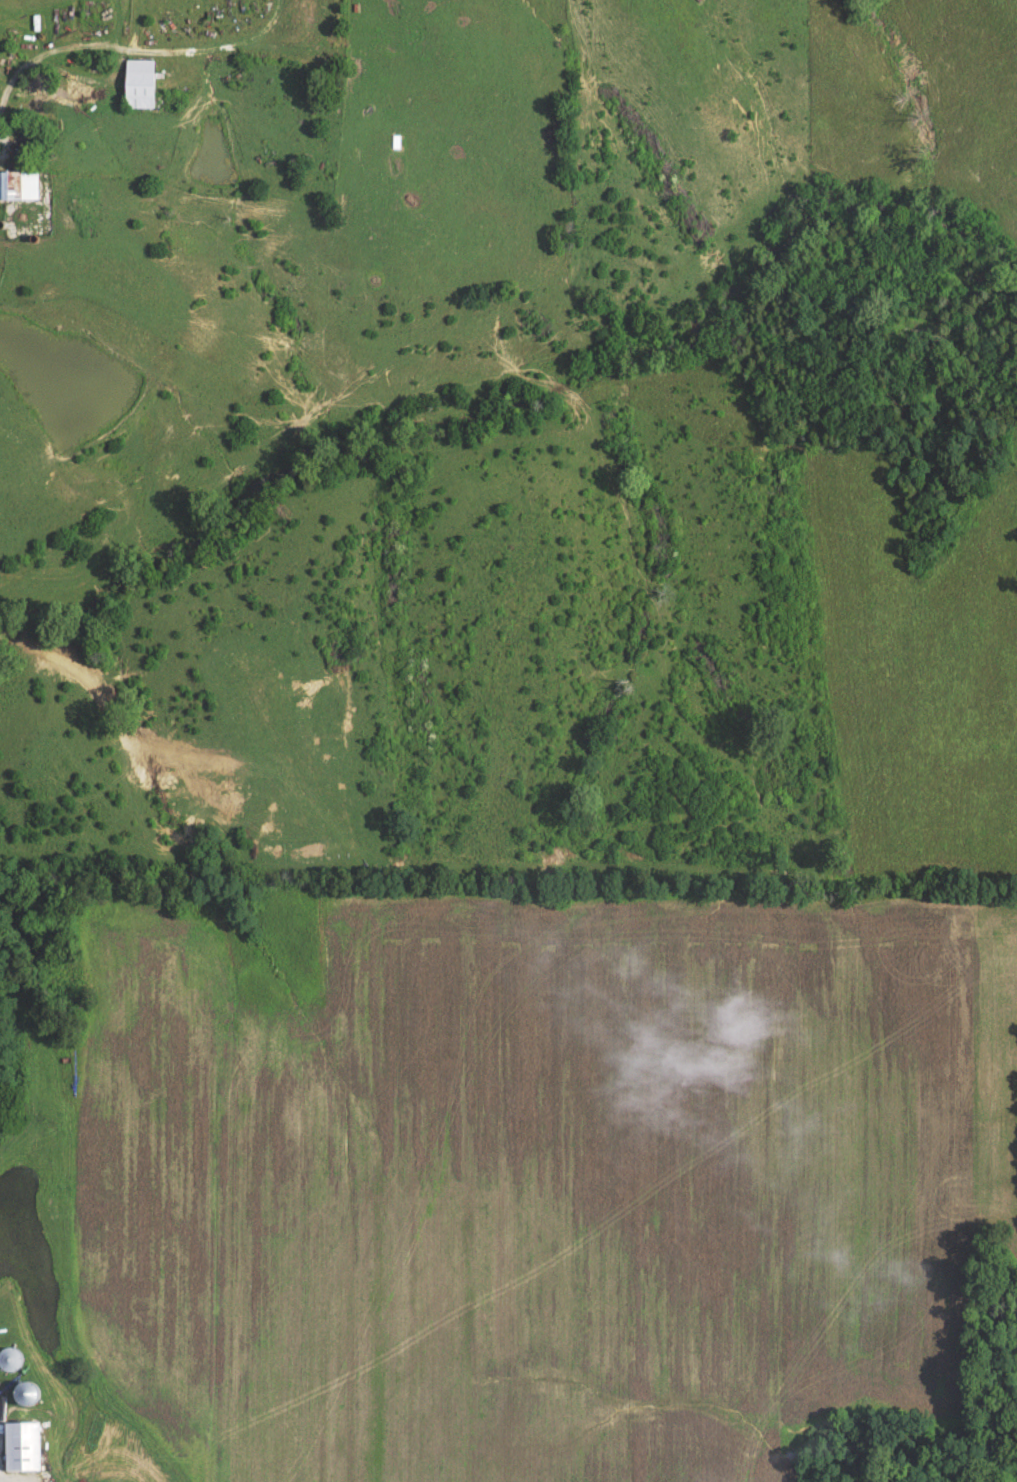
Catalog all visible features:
road: (141, 43)
building: (140, 88)
building: (5, 190)
building: (23, 1450)

